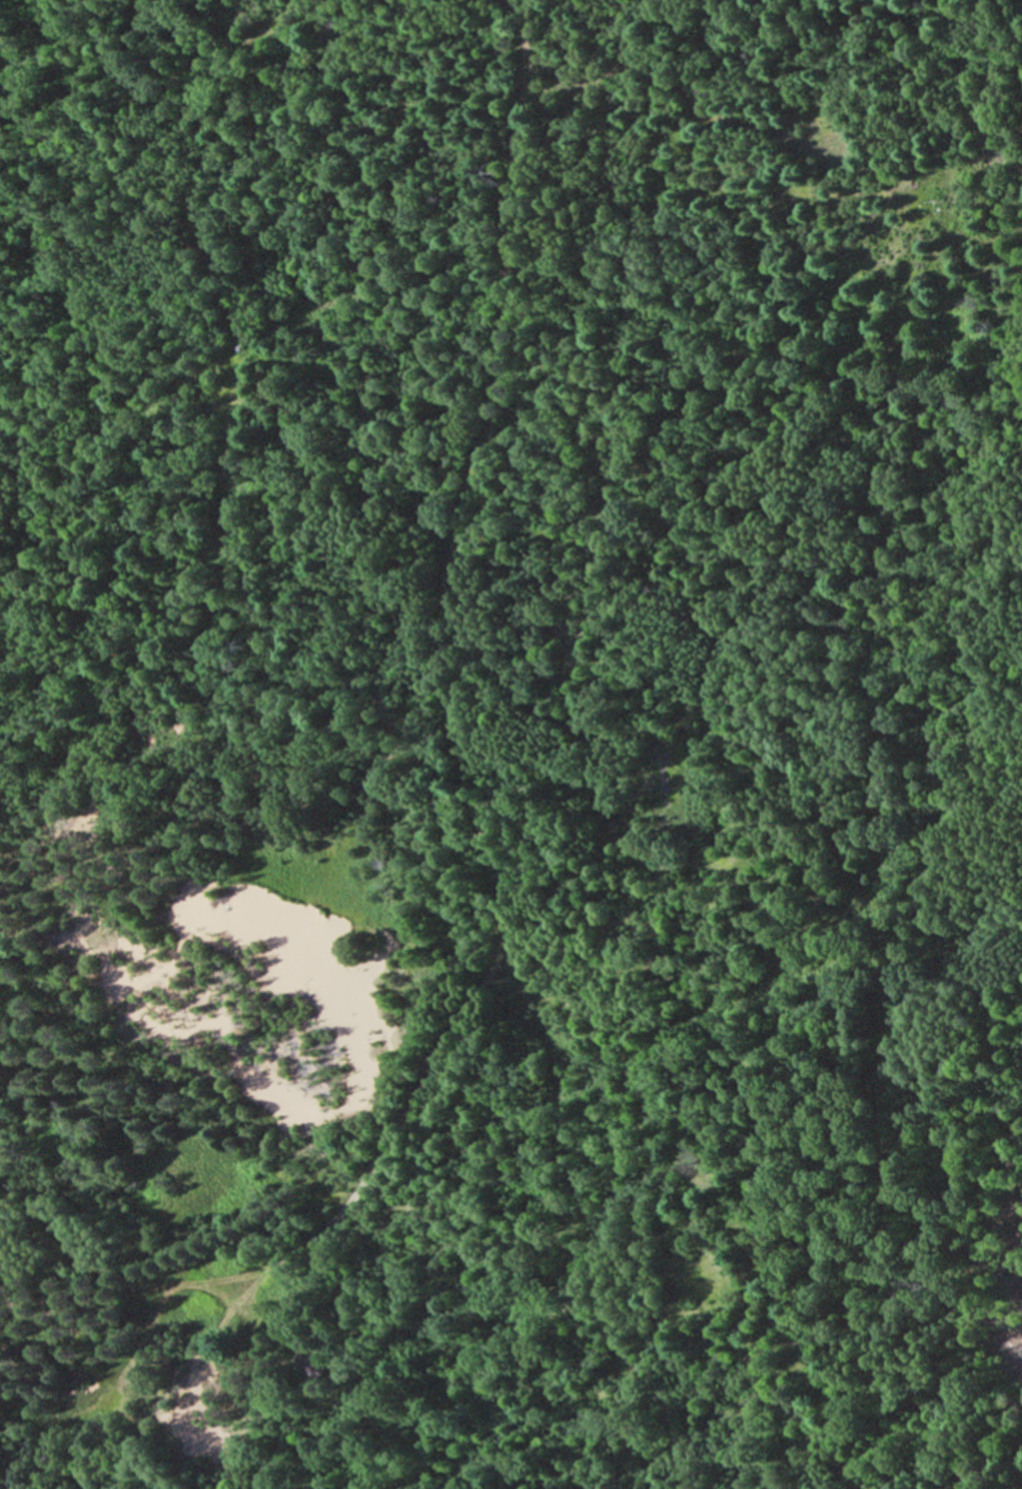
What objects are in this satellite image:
road: (466, 801)

